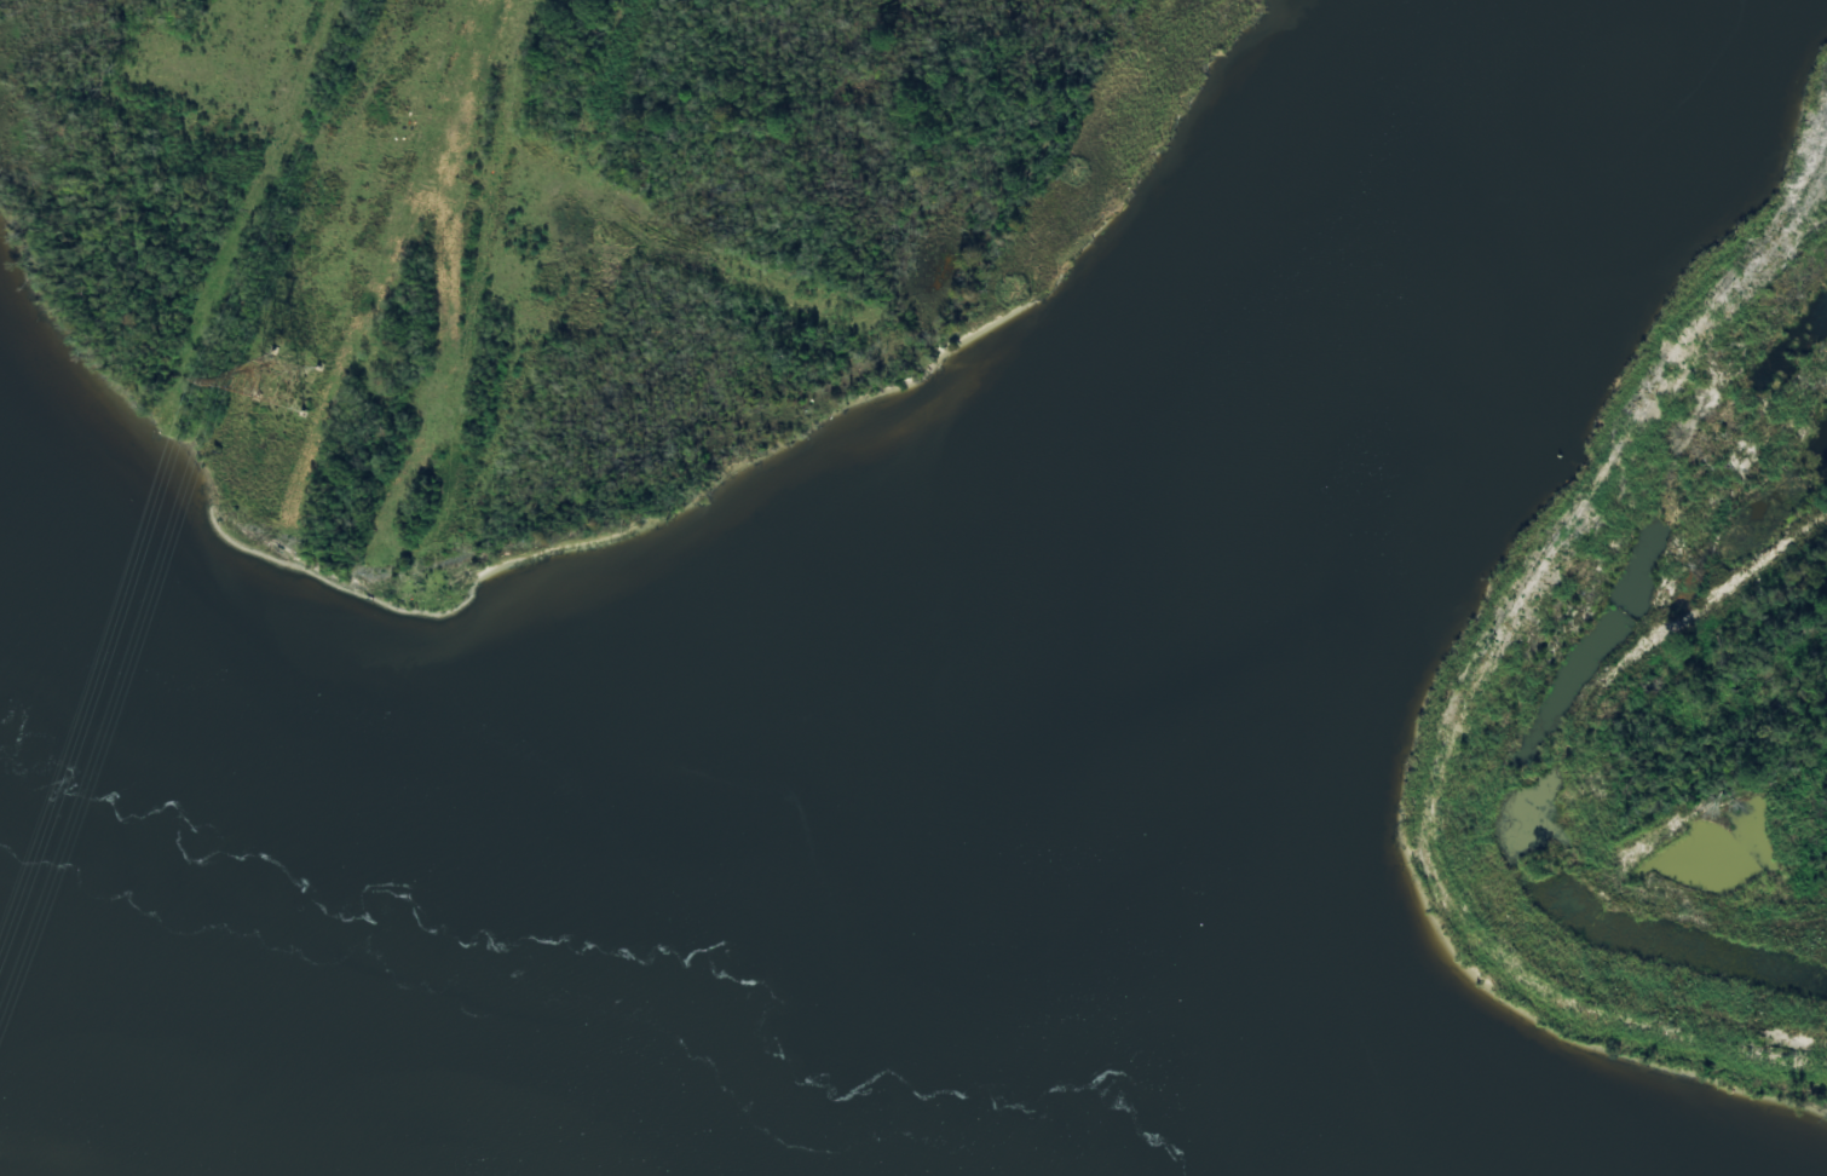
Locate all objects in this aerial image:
power tower: (284, 380)
river: (375, 1051)

